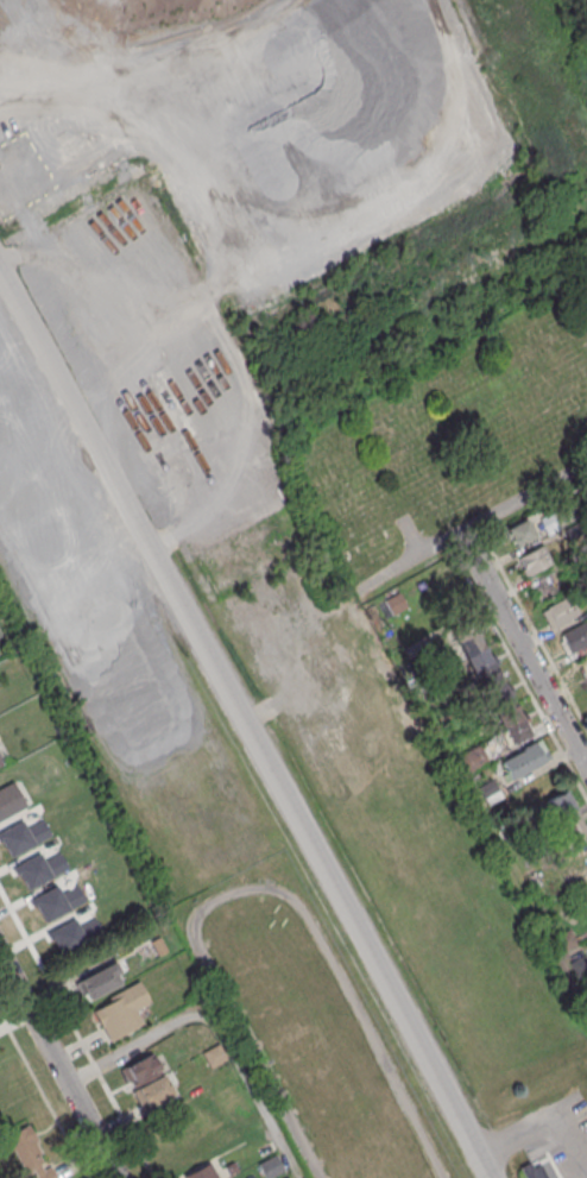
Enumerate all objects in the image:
park: (585, 2)
building: (212, 388)
park: (456, 442)
building: (558, 517)
road: (474, 523)
building: (574, 529)
building: (520, 531)
road: (410, 536)
building: (535, 560)
building: (548, 585)
building: (395, 603)
building: (560, 611)
building: (0, 634)
building: (575, 636)
building: (412, 648)
road: (528, 659)
building: (583, 666)
building: (490, 681)
road: (525, 685)
road: (247, 723)
building: (474, 758)
building: (523, 760)
building: (0, 762)
building: (490, 792)
building: (10, 800)
building: (567, 817)
building: (567, 939)
building: (580, 964)
building: (101, 981)
building: (120, 1010)
road: (216, 1027)
road: (76, 1033)
road: (58, 1066)
building: (140, 1070)
building: (152, 1092)
building: (25, 1149)
building: (534, 1171)
building: (201, 1173)

